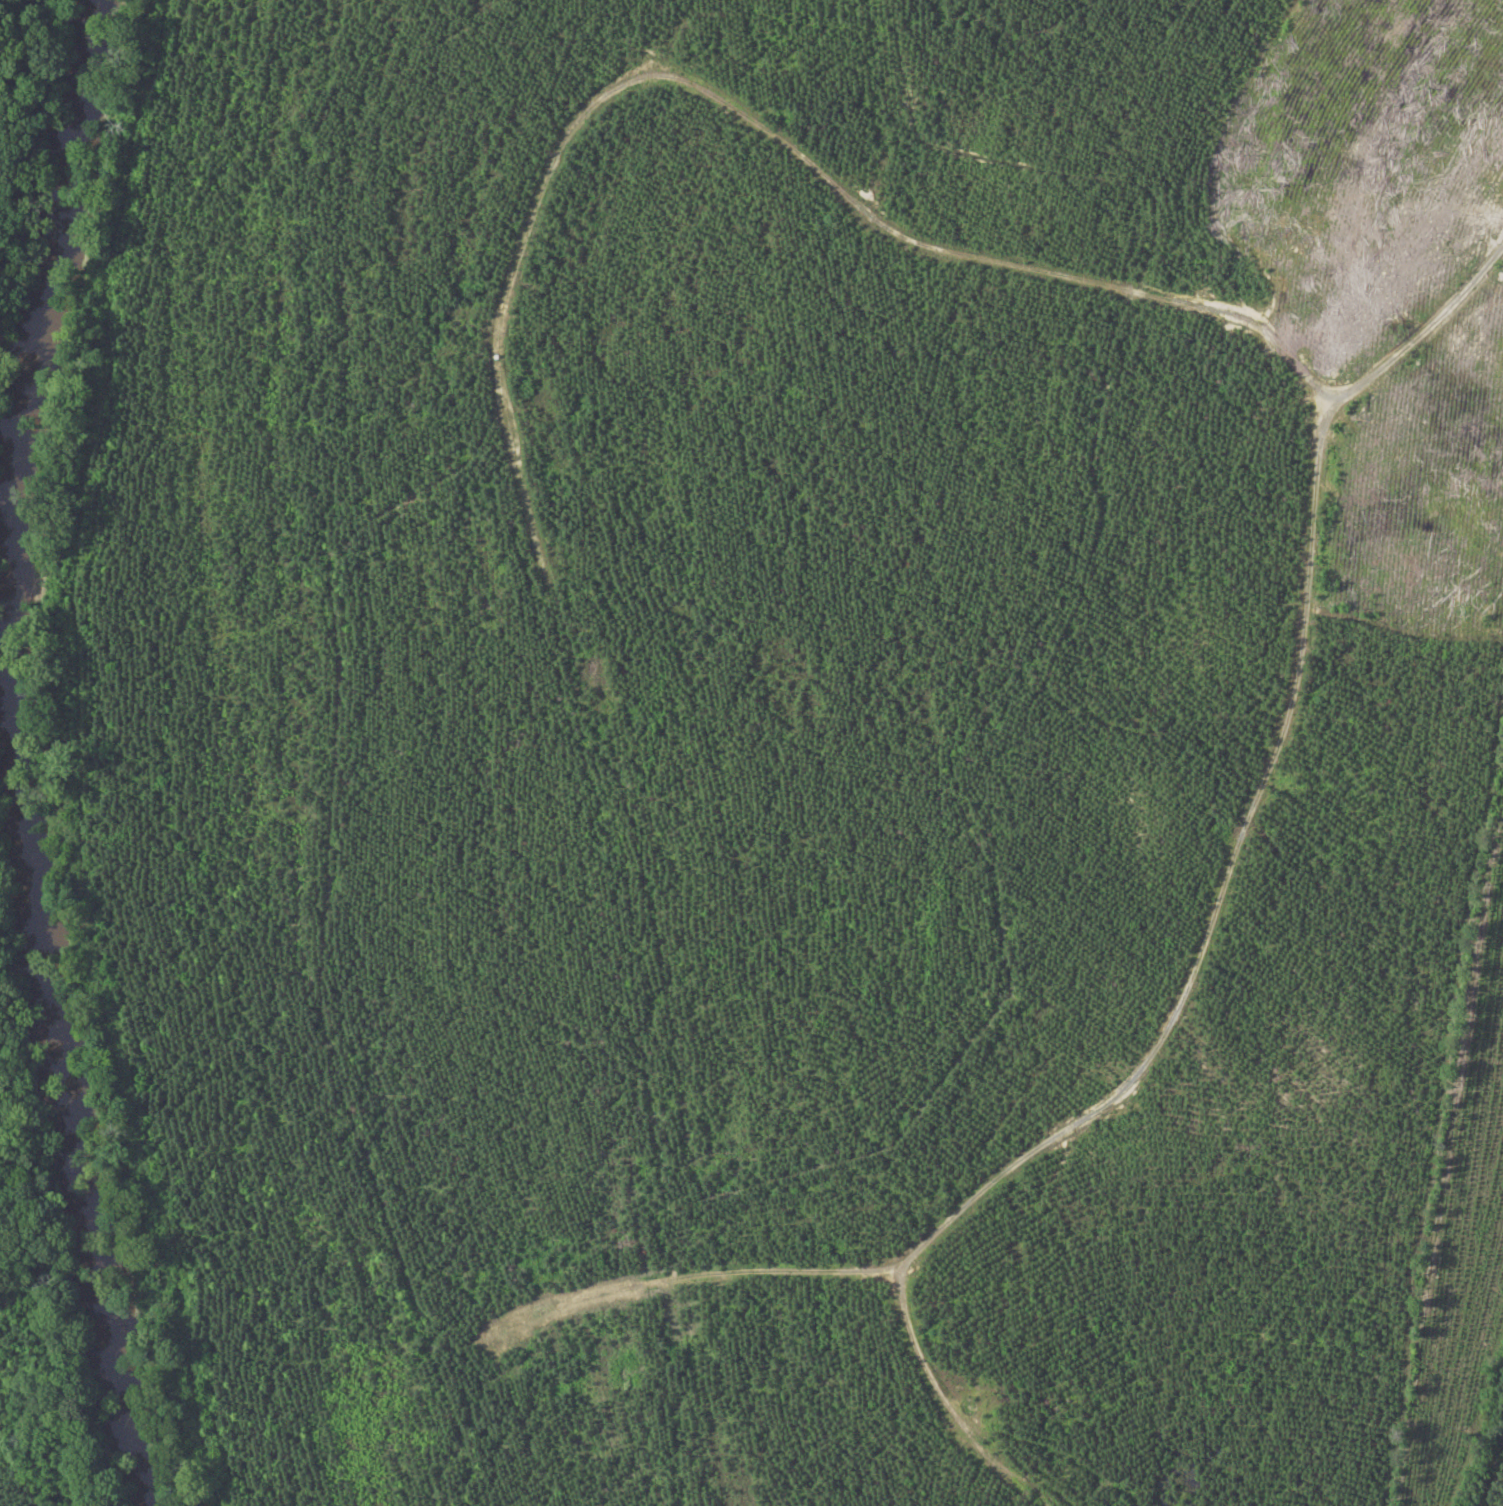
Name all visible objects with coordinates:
river: (16, 757)

